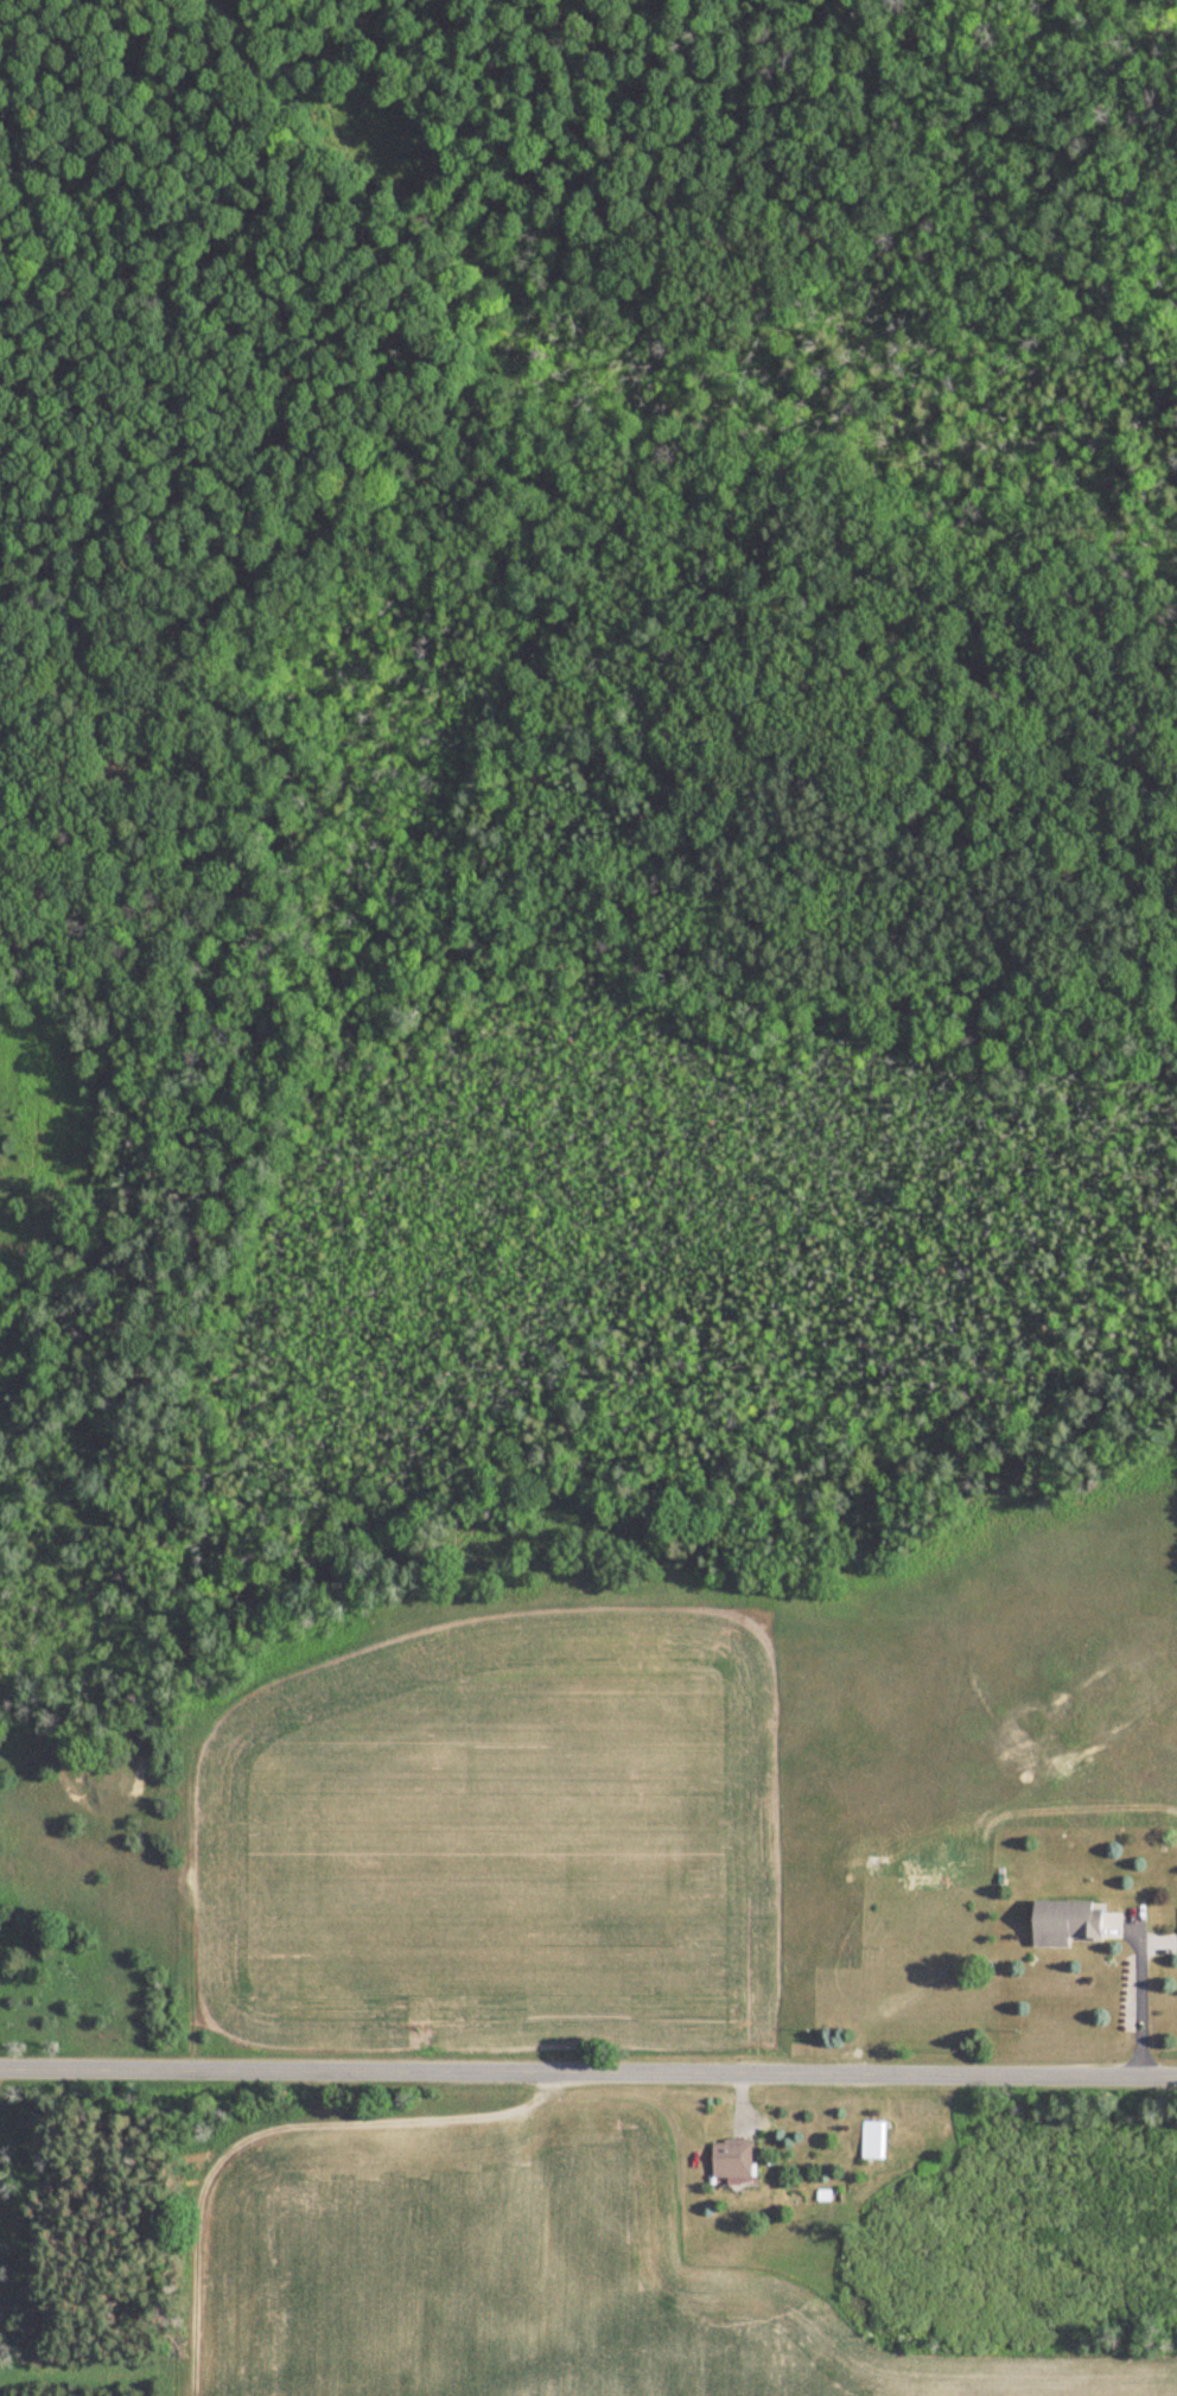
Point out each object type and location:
building: (1069, 1922)
road: (588, 2072)
building: (874, 2140)
building: (734, 2160)

